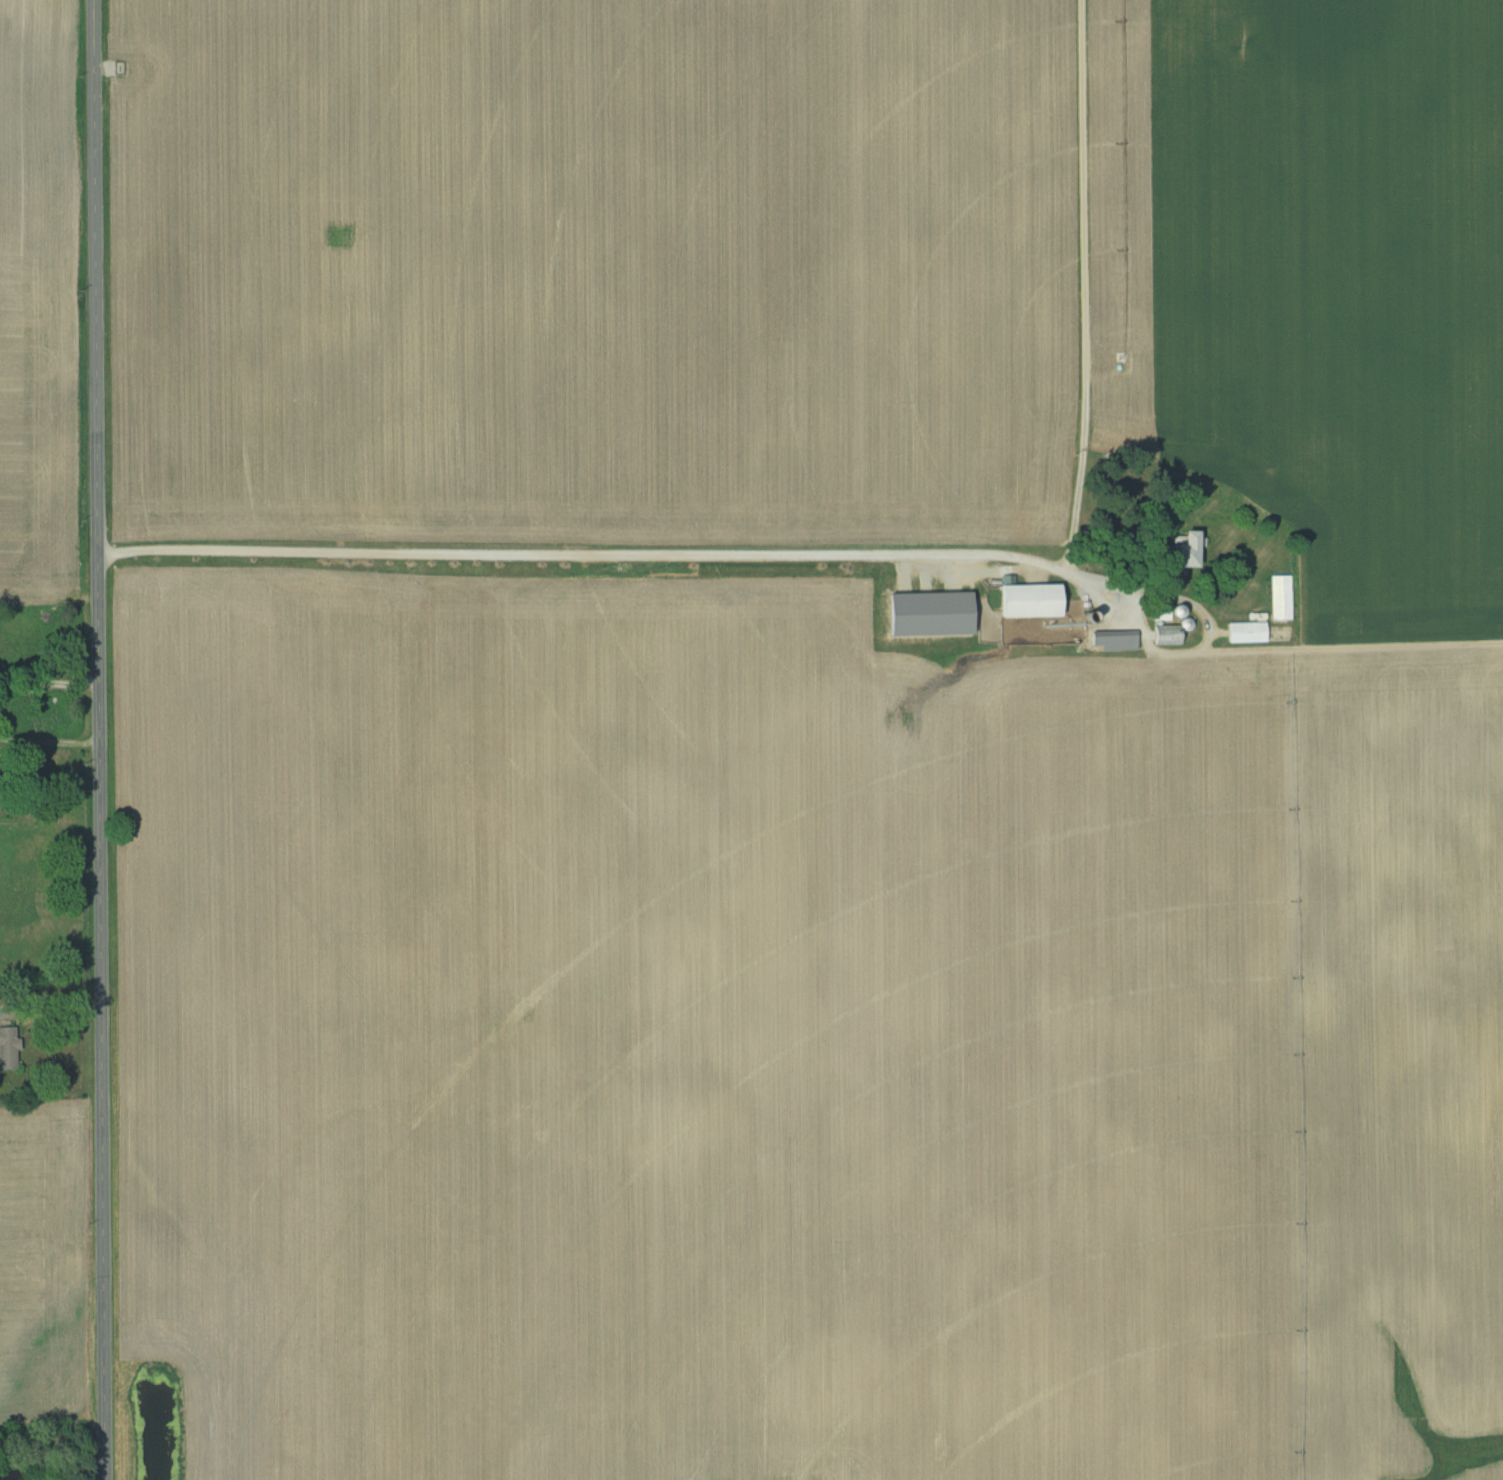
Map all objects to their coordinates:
road: (860, 527)
building: (1181, 549)
building: (1280, 596)
building: (1025, 600)
building: (1159, 611)
building: (1245, 631)
building: (1163, 633)
building: (1113, 639)
road: (49, 690)
road: (99, 740)
road: (49, 751)
building: (6, 1048)

